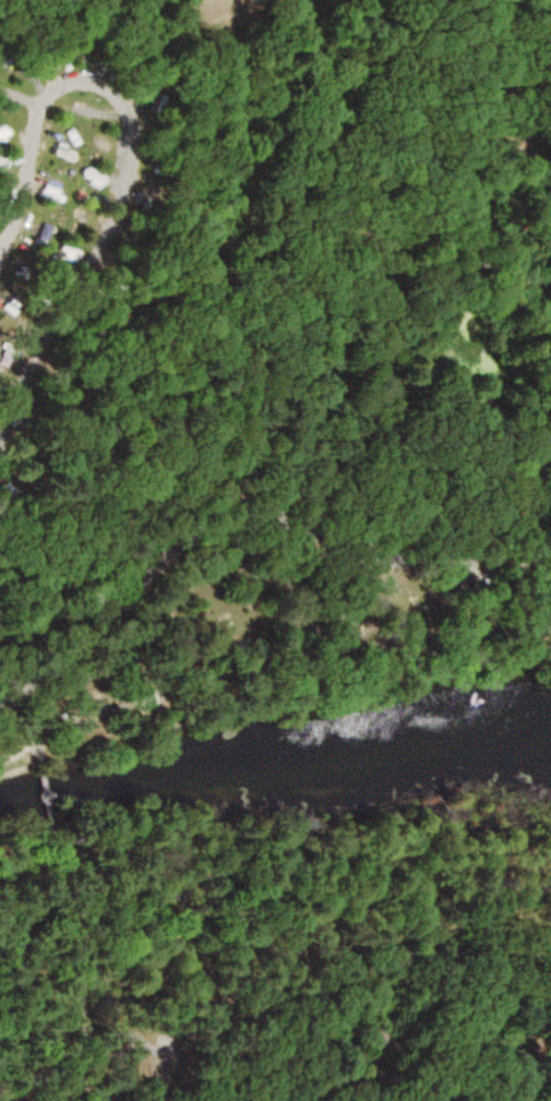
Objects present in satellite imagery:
road: (160, 52)
building: (87, 107)
building: (8, 131)
building: (103, 136)
road: (134, 146)
building: (12, 171)
road: (278, 418)
road: (244, 514)
park: (275, 550)
road: (285, 658)
road: (32, 738)
river: (274, 762)
road: (51, 798)
road: (314, 901)
road: (83, 961)
road: (544, 1092)

